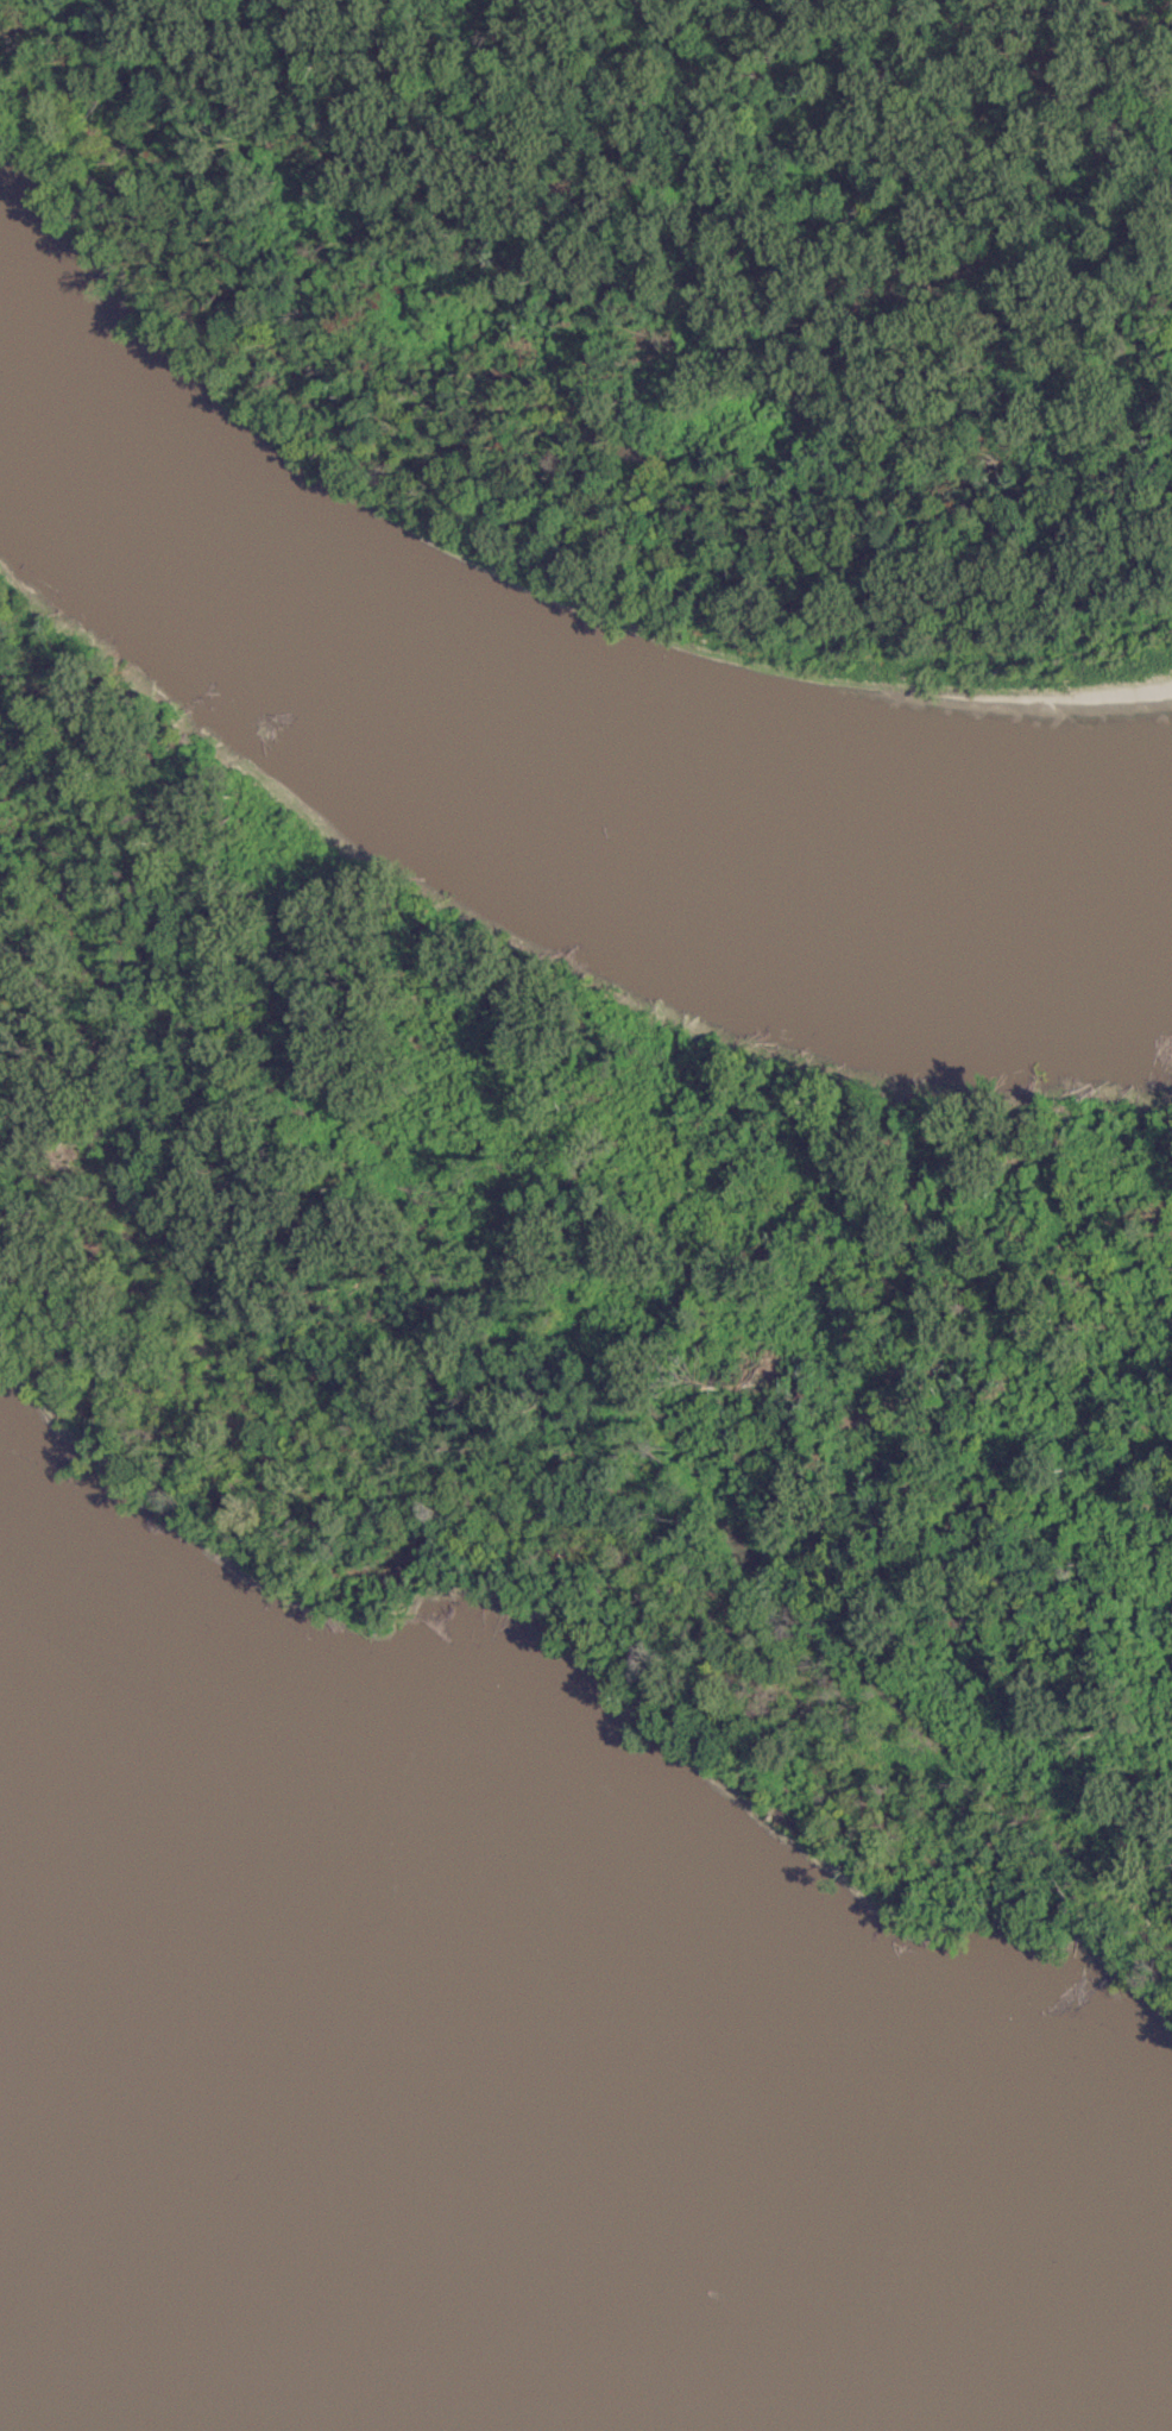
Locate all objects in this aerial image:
river: (515, 778)
river: (409, 2256)

